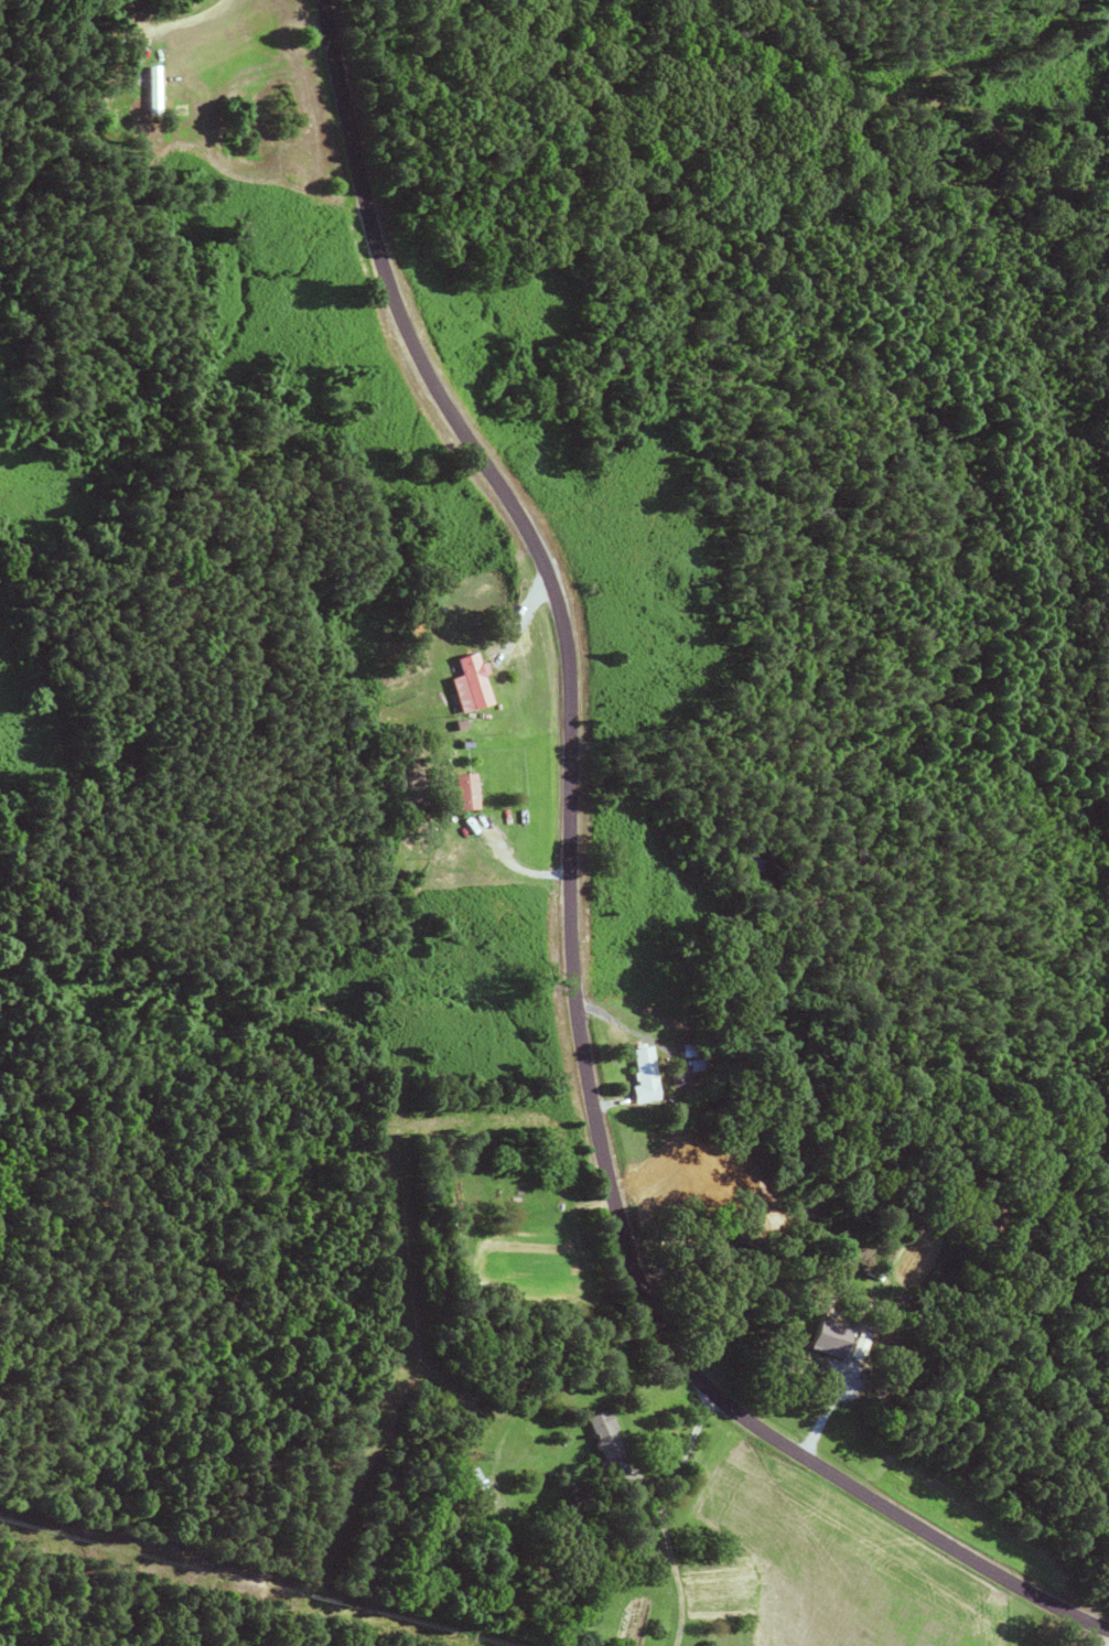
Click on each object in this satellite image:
road: (186, 22)
building: (149, 92)
road: (515, 622)
building: (473, 680)
building: (462, 792)
road: (508, 862)
road: (566, 917)
building: (636, 1075)
building: (820, 1341)
building: (600, 1435)
building: (470, 1477)
road: (661, 1513)
road: (1102, 1638)

